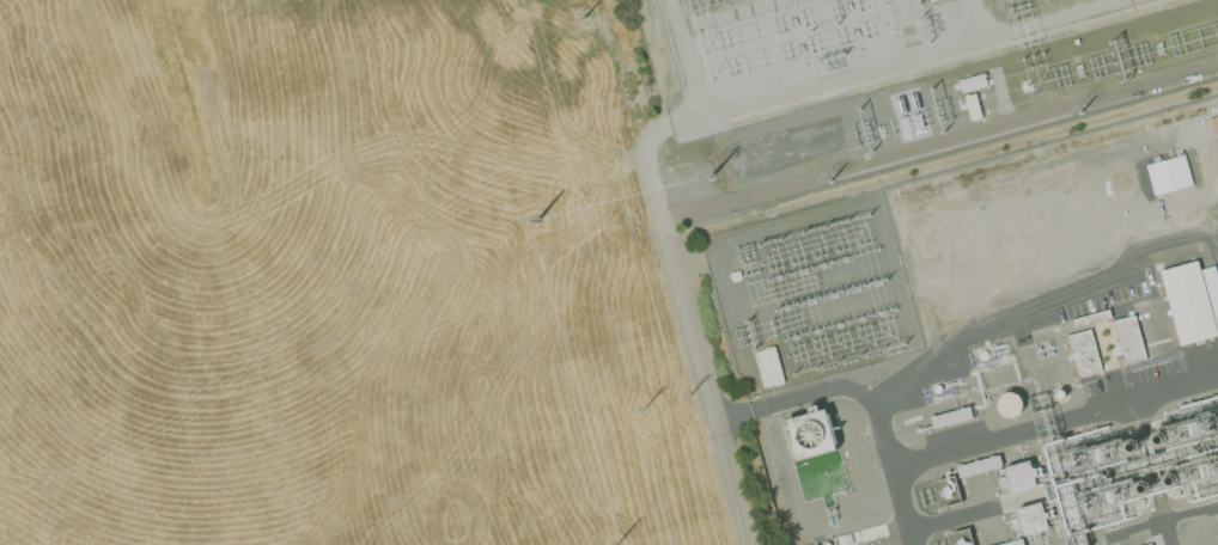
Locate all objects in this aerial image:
power tower: (583, 18)
power substation: (901, 78)
building: (973, 82)
building: (1167, 173)
building: (736, 276)
building: (1190, 300)
road: (1053, 302)
building: (1091, 318)
building: (1129, 339)
power plant: (993, 348)
building: (1084, 353)
road: (696, 354)
building: (768, 367)
power tower: (688, 402)
building: (1009, 404)
road: (876, 410)
road: (732, 414)
building: (951, 417)
road: (1055, 423)
chimney: (1152, 442)
building: (809, 443)
chimney: (1127, 449)
building: (979, 466)
building: (1022, 477)
chimney: (1164, 483)
chimney: (1135, 490)
building: (1033, 519)
building: (1217, 519)
road: (1164, 533)
building: (1013, 543)

